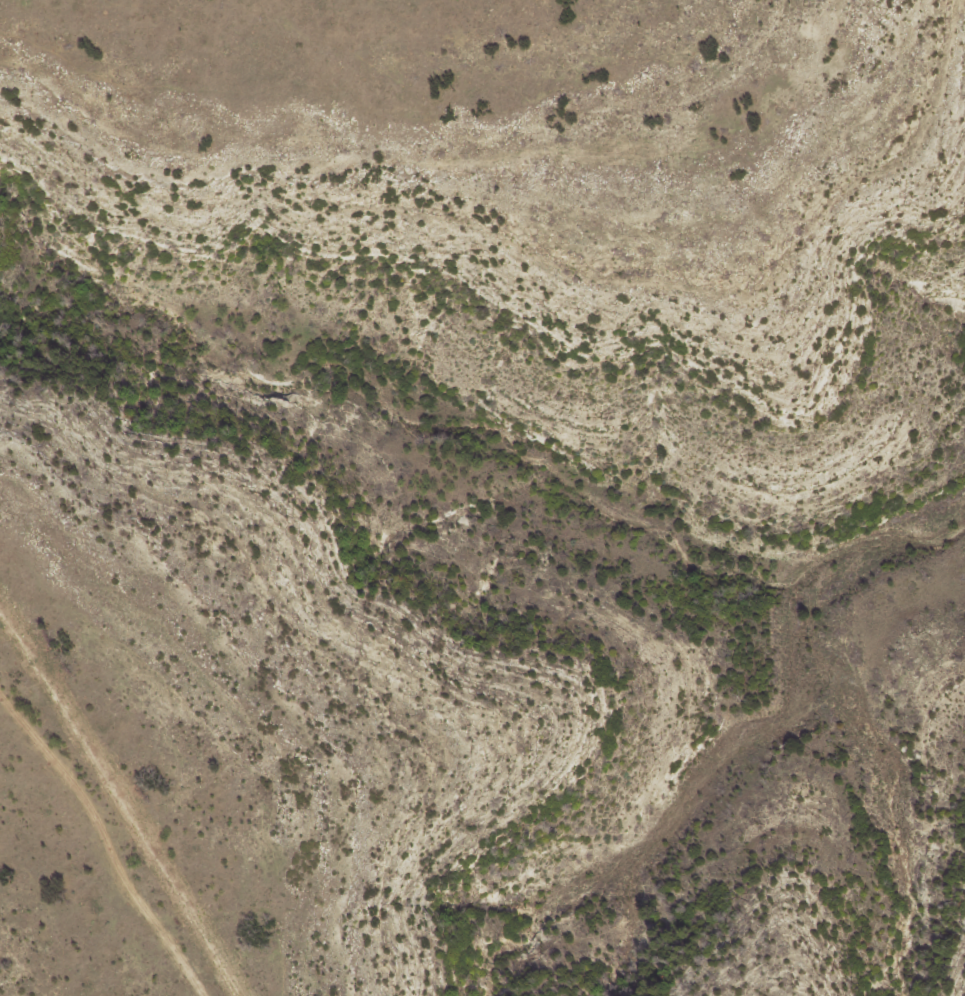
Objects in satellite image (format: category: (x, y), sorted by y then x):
road: (151, 823)

